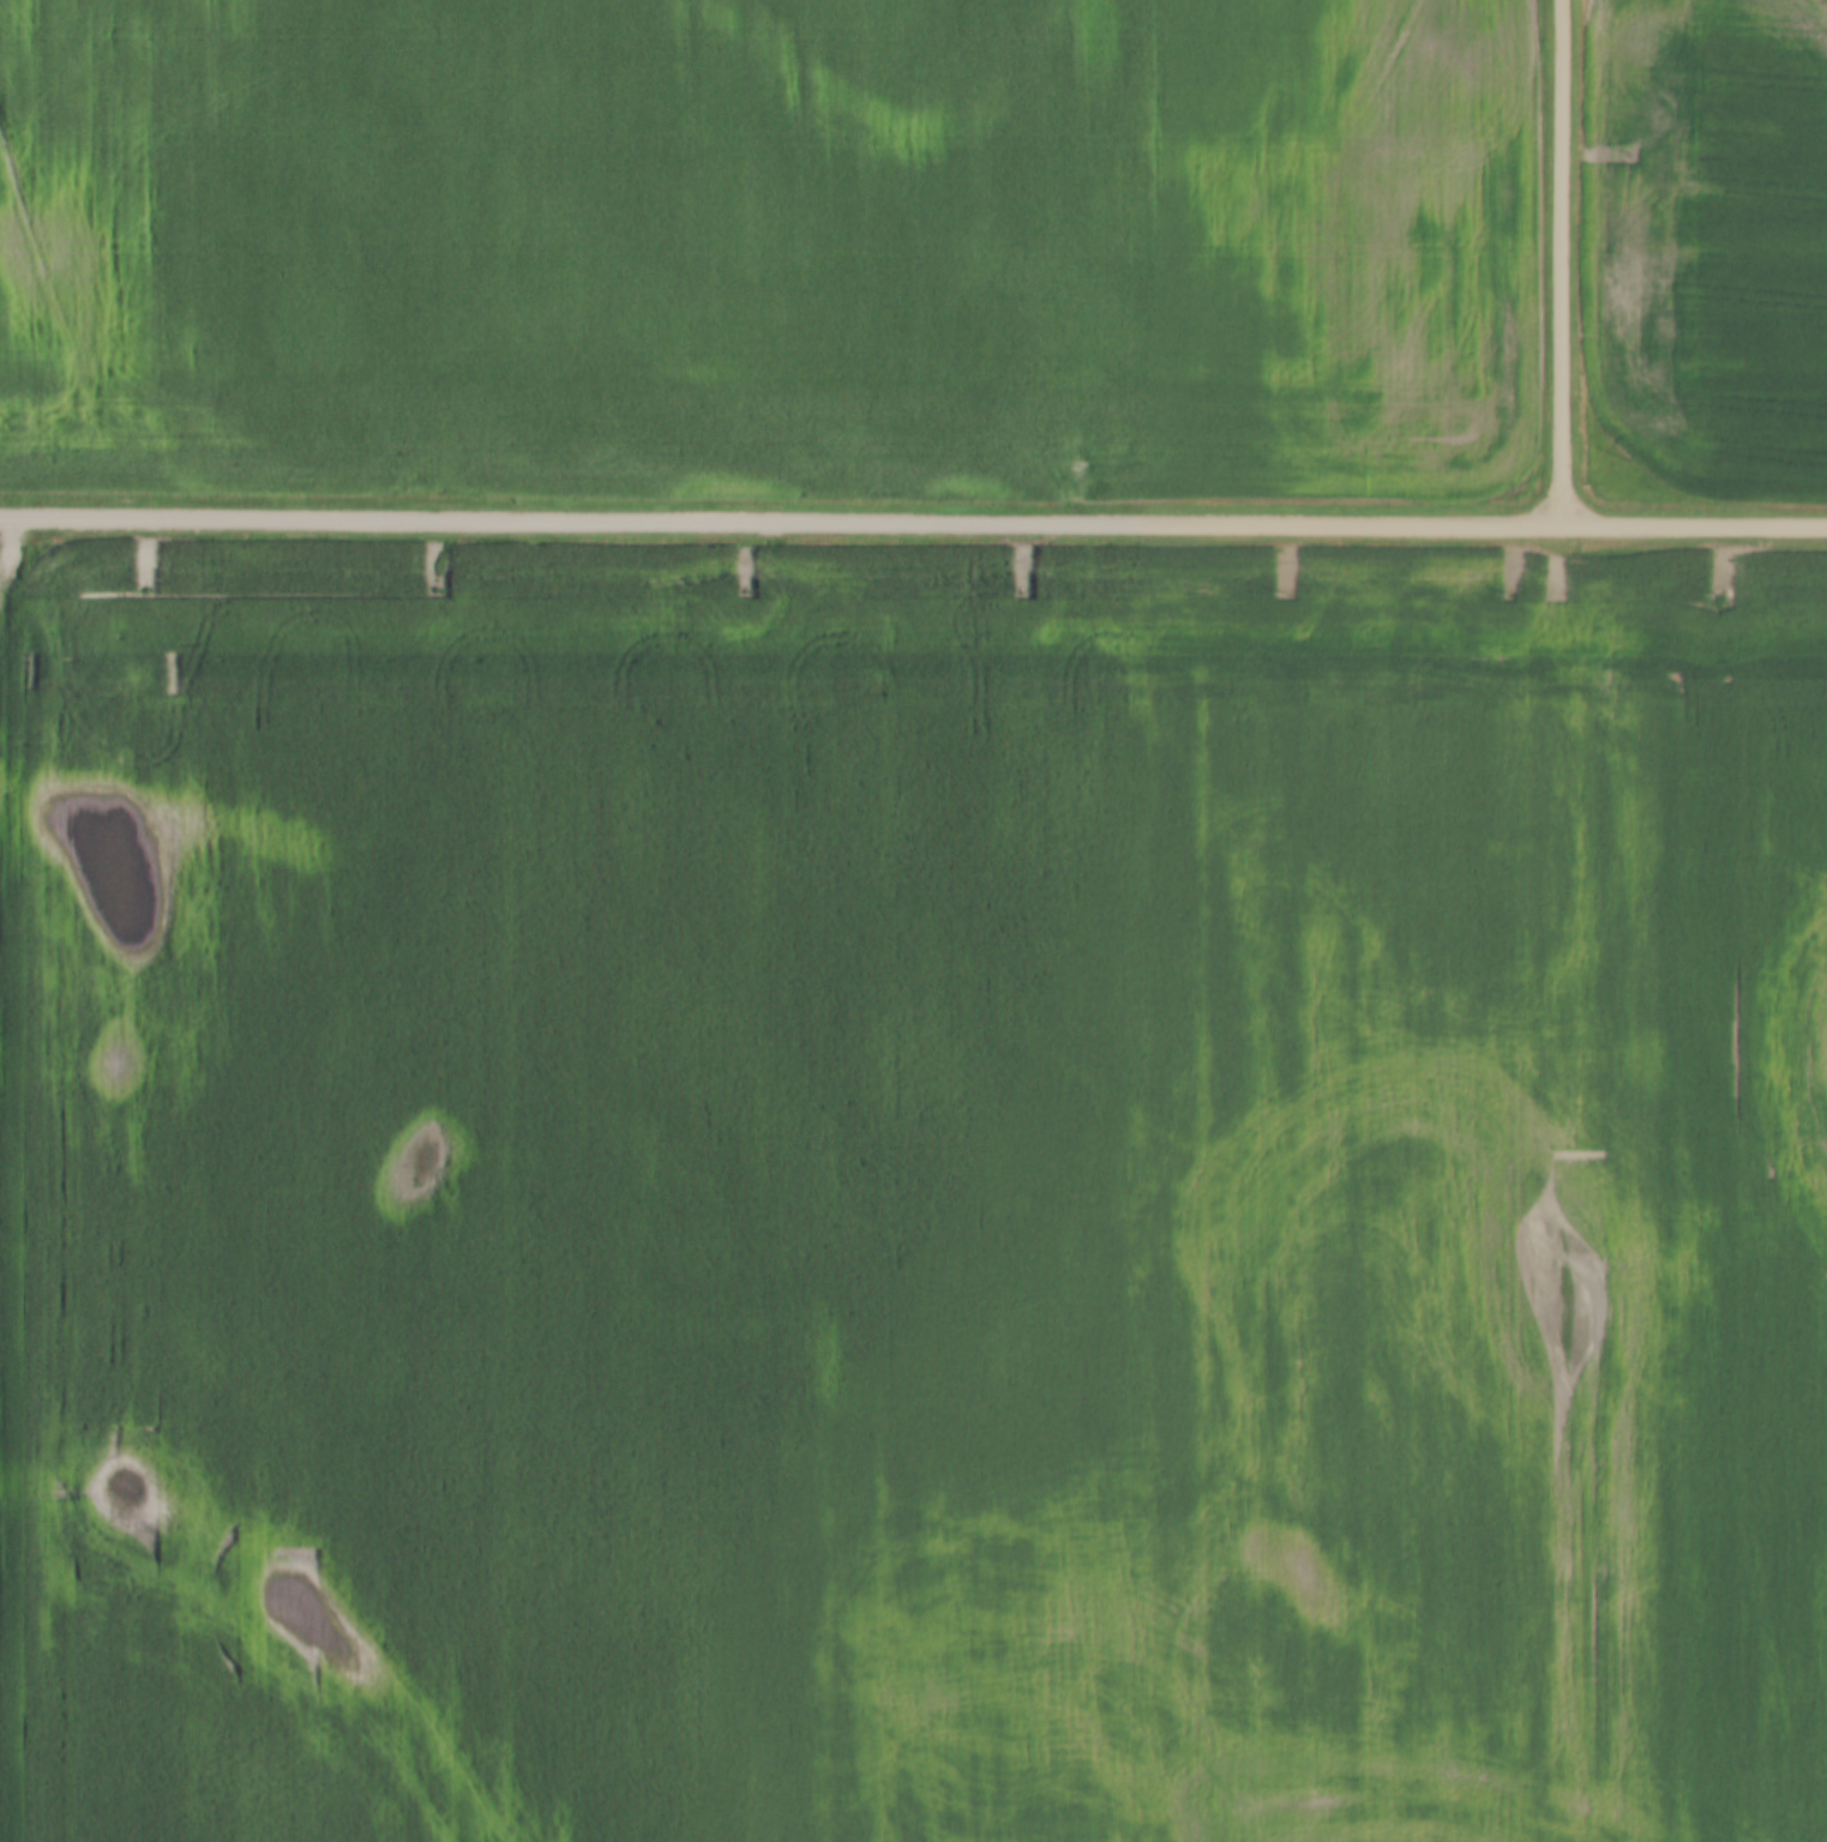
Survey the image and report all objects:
road: (1564, 263)
road: (913, 522)

